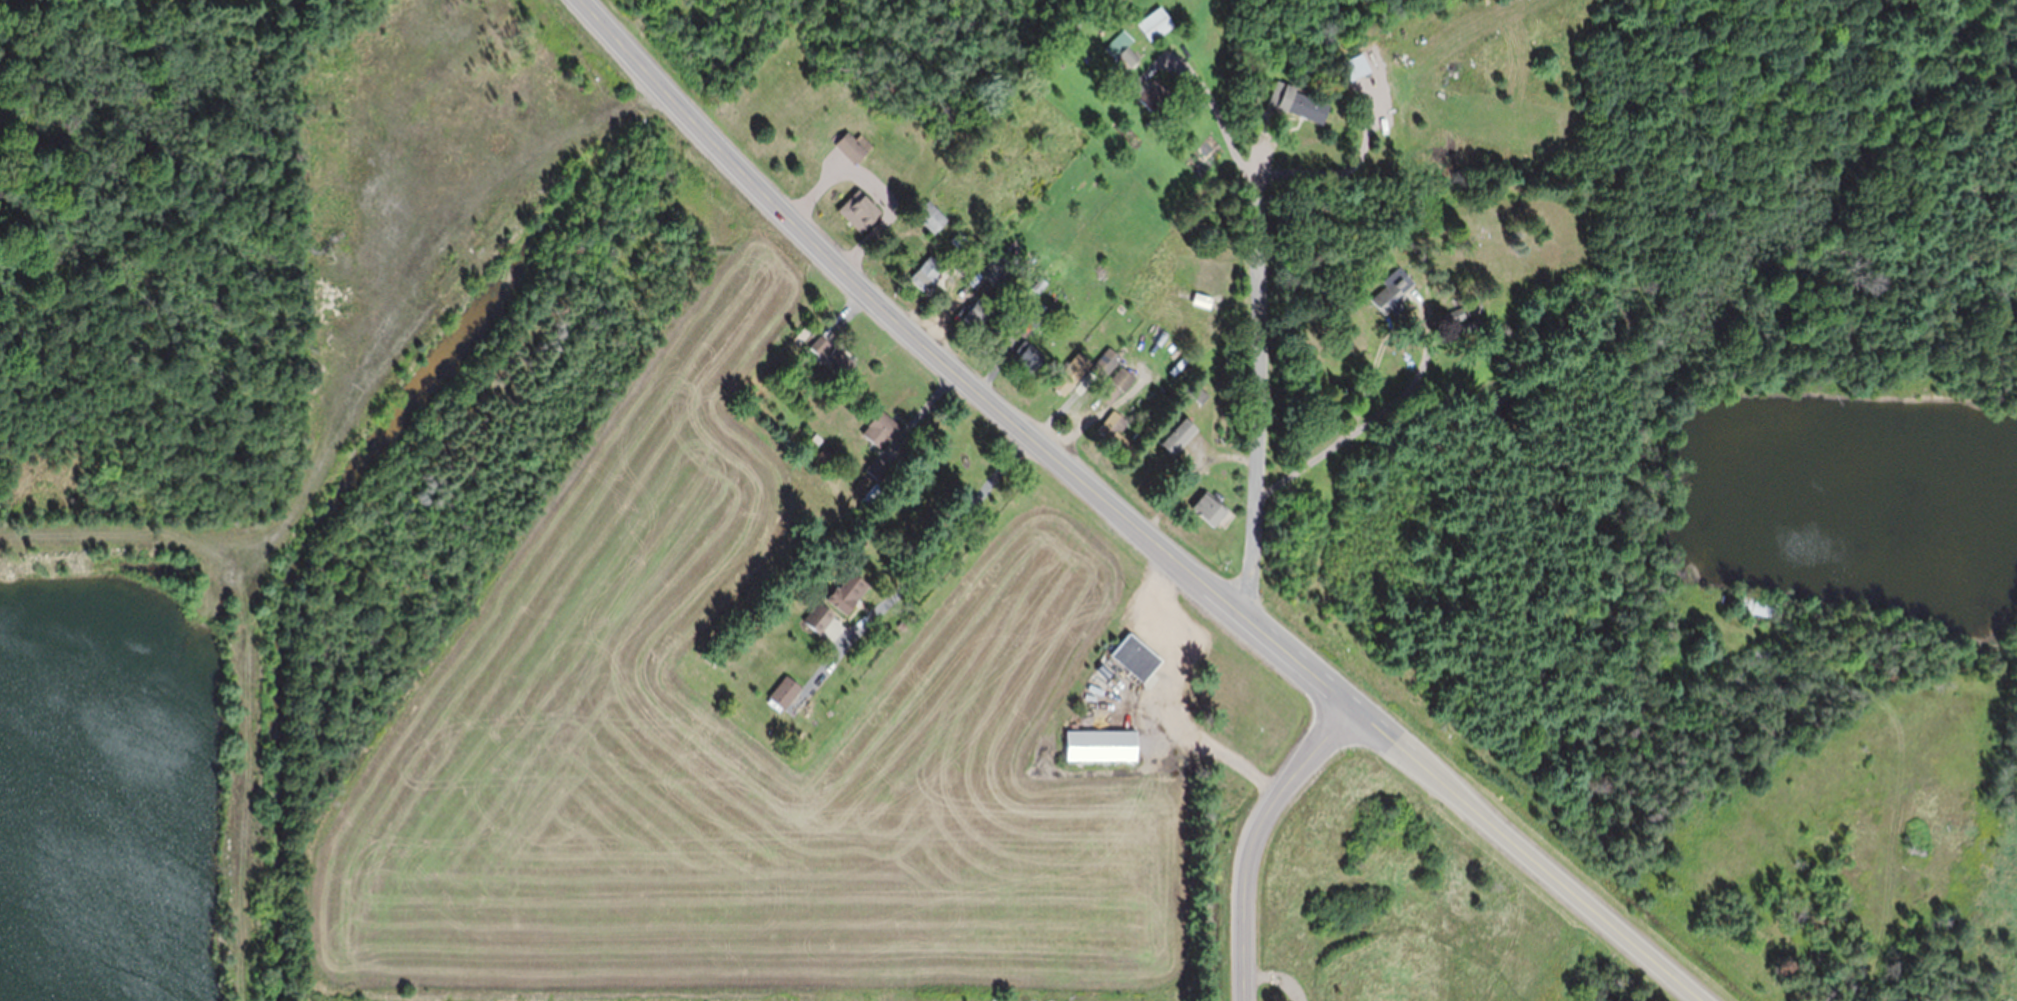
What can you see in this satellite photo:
building: (1154, 23)
building: (1122, 48)
building: (1300, 57)
building: (1354, 65)
building: (583, 87)
building: (1147, 89)
building: (1296, 101)
building: (853, 144)
building: (947, 197)
building: (862, 209)
building: (930, 214)
building: (958, 238)
building: (462, 241)
building: (971, 254)
building: (986, 268)
building: (926, 272)
landfill: (145, 275)
building: (1000, 276)
building: (1039, 283)
building: (1392, 290)
building: (1201, 299)
building: (1120, 306)
building: (1030, 308)
building: (1464, 310)
building: (978, 311)
road: (903, 321)
building: (1470, 324)
building: (802, 333)
road: (1256, 337)
building: (831, 354)
building: (1233, 354)
building: (1028, 355)
building: (1104, 362)
building: (1071, 371)
building: (779, 375)
building: (1122, 377)
building: (1234, 383)
road: (322, 387)
building: (1109, 390)
building: (1199, 393)
building: (880, 427)
building: (1114, 428)
building: (1178, 434)
building: (816, 437)
building: (825, 458)
building: (876, 466)
building: (871, 493)
building: (1296, 494)
building: (1210, 506)
building: (861, 507)
road: (935, 561)
building: (841, 595)
building: (1758, 604)
building: (814, 618)
building: (1136, 655)
road: (1298, 661)
landfill: (698, 685)
building: (1140, 688)
building: (784, 690)
building: (1101, 744)
road: (1251, 836)
building: (1917, 839)
road: (1530, 853)

